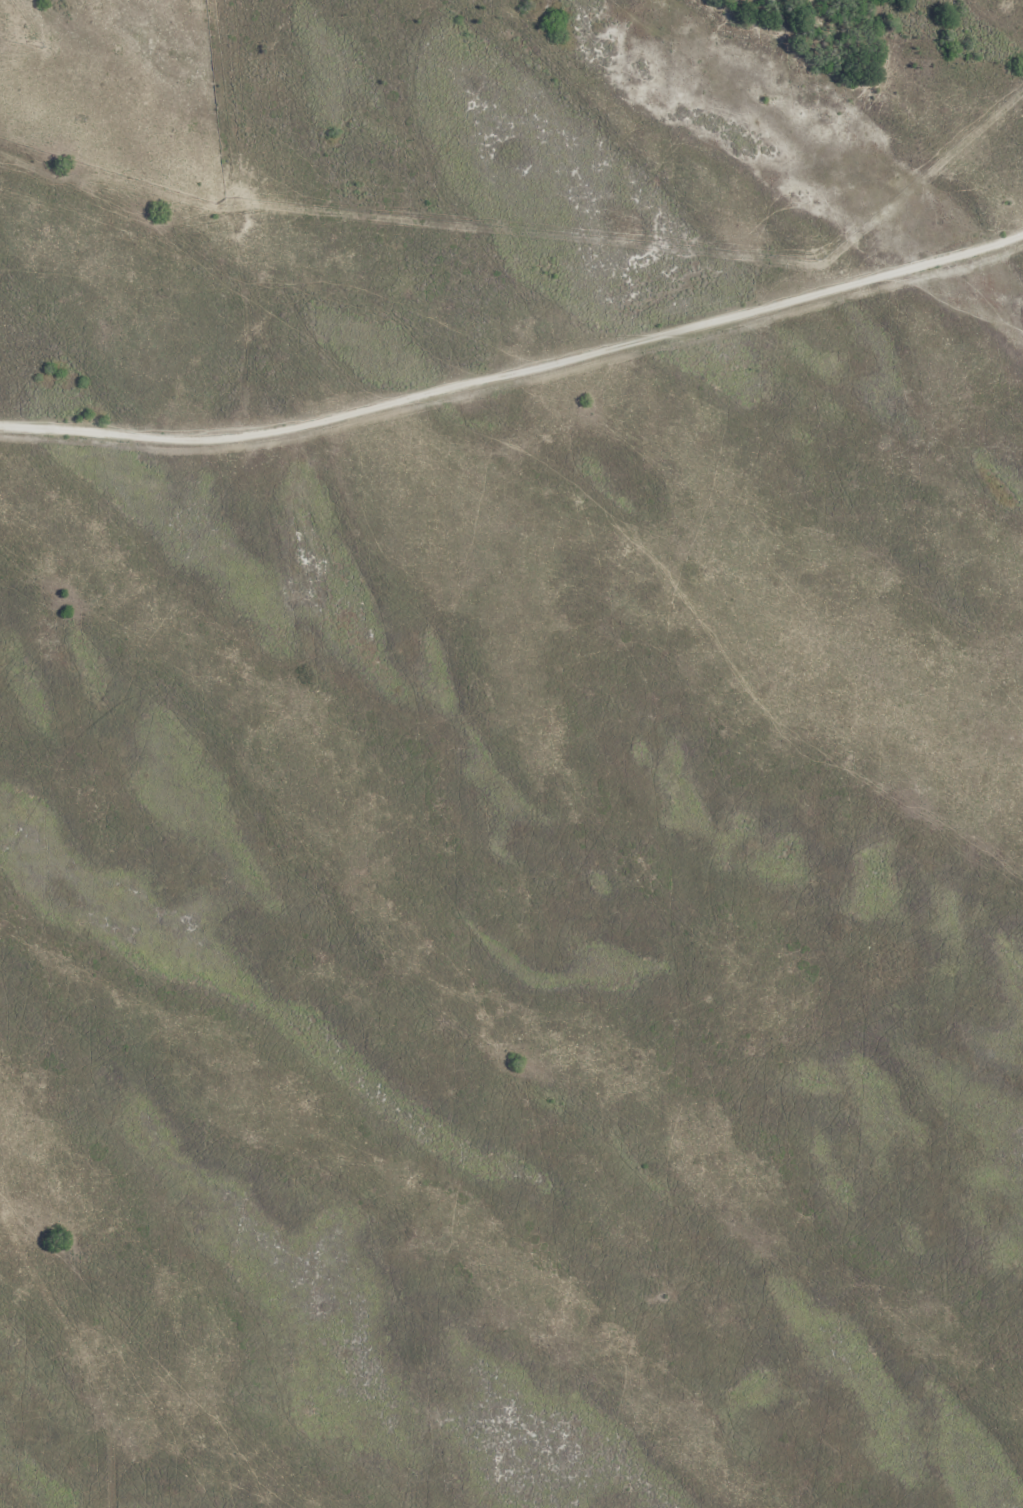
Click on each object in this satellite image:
road: (517, 373)

